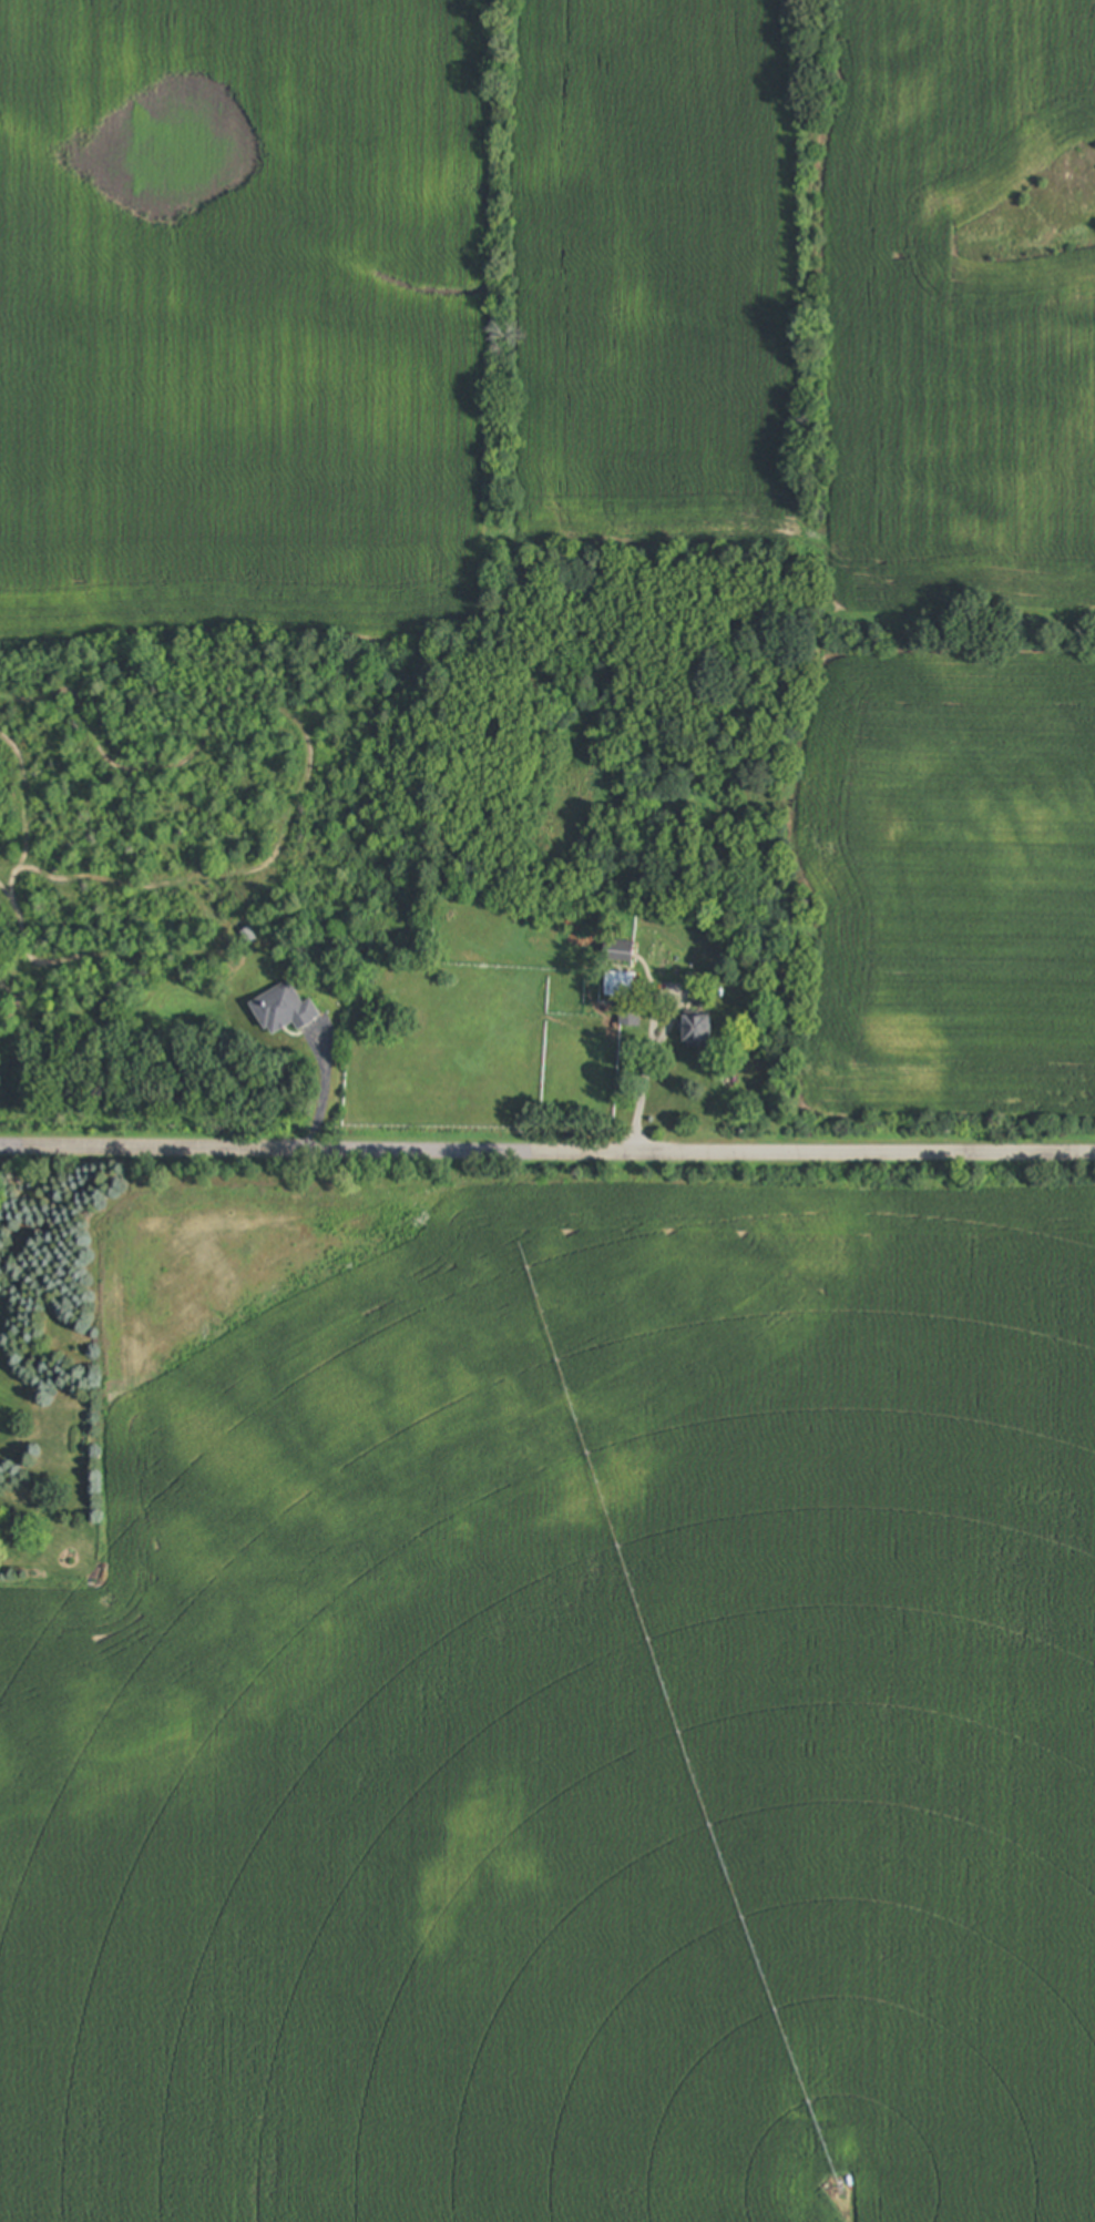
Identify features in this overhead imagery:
building: (284, 1010)
building: (699, 1031)
road: (645, 1076)
road: (325, 1091)
road: (547, 1151)

